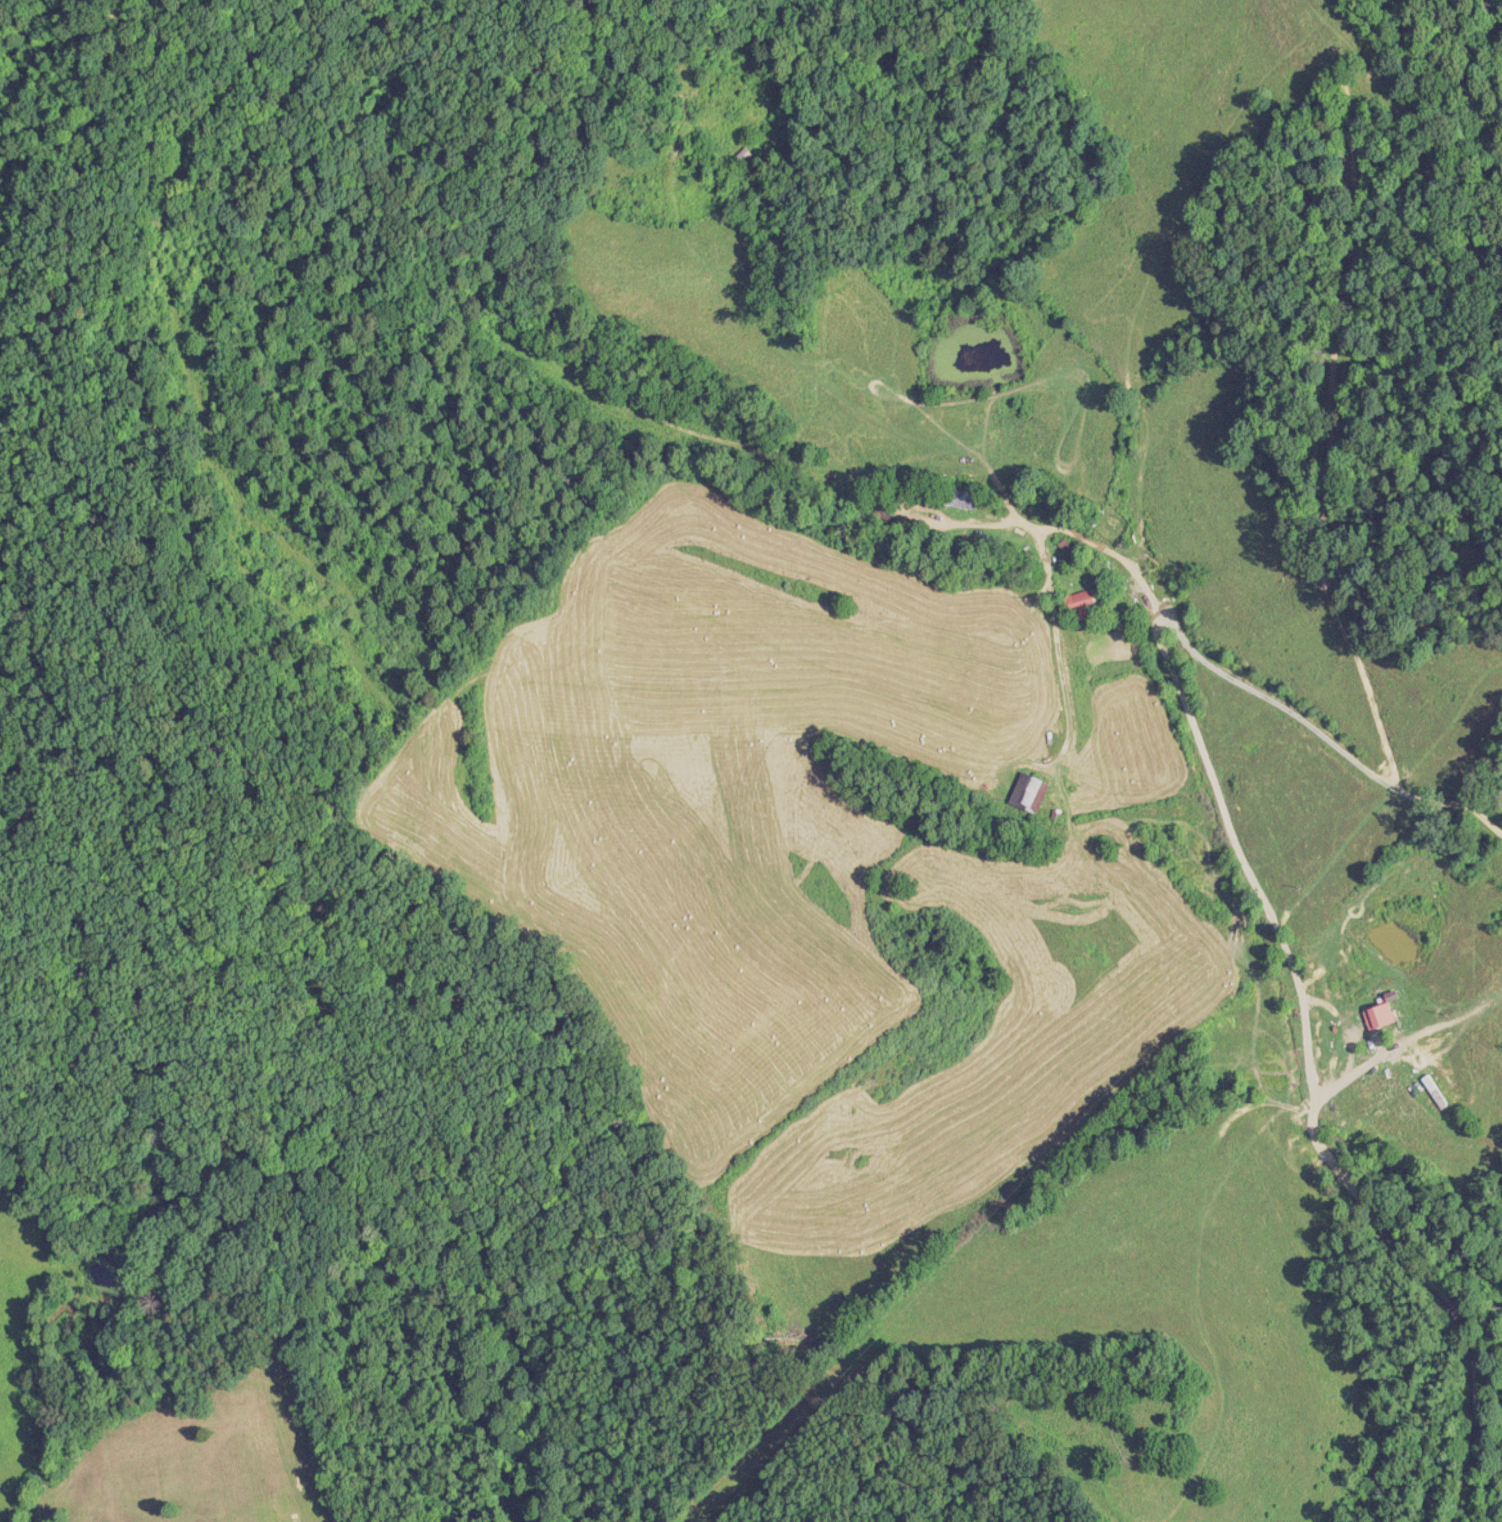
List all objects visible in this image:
building: (744, 153)
building: (959, 496)
building: (1081, 603)
building: (1028, 792)
building: (1379, 1015)

